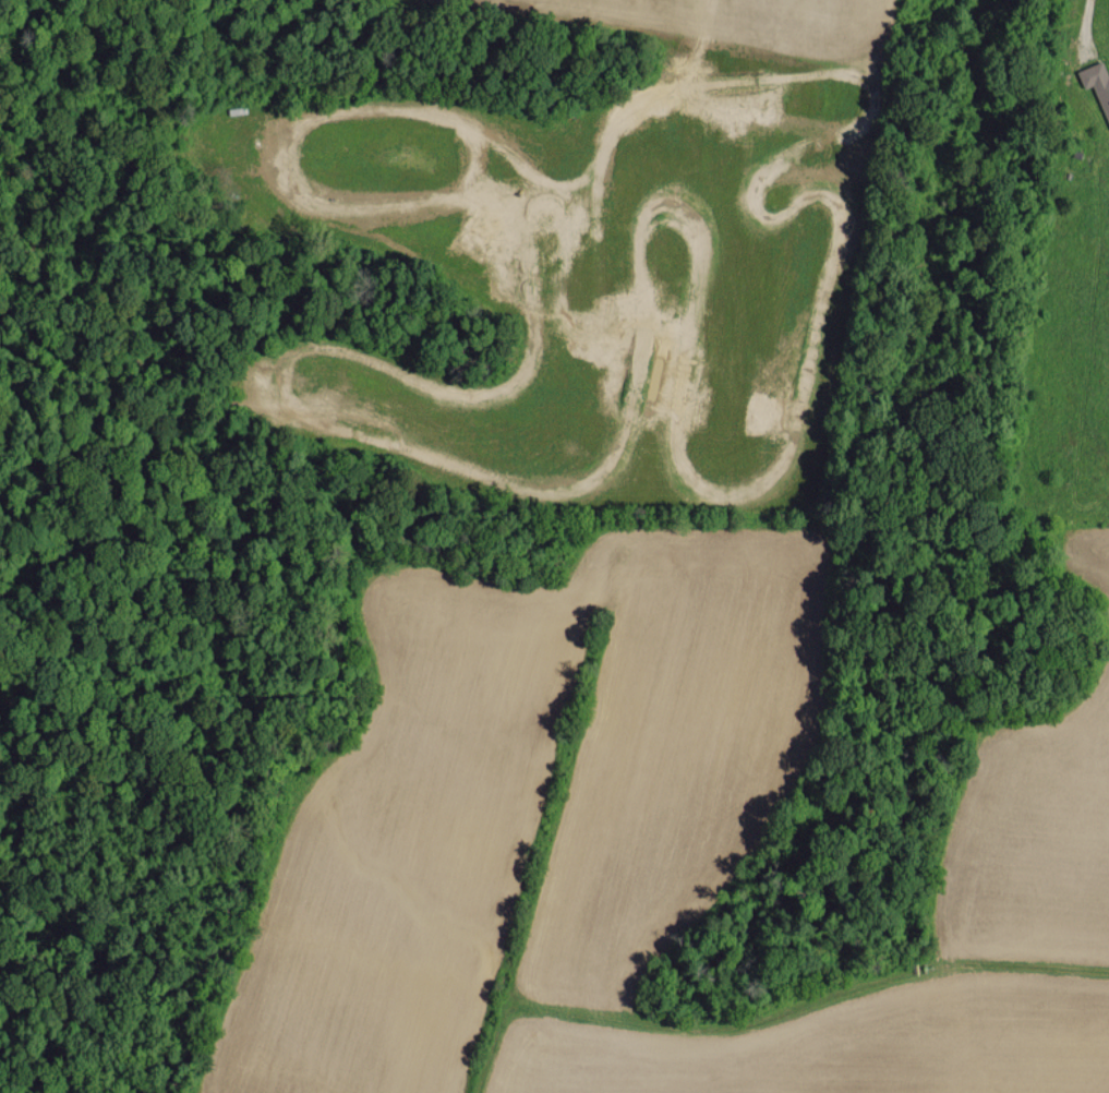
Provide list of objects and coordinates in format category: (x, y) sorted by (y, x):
road: (1084, 25)
building: (1097, 83)

